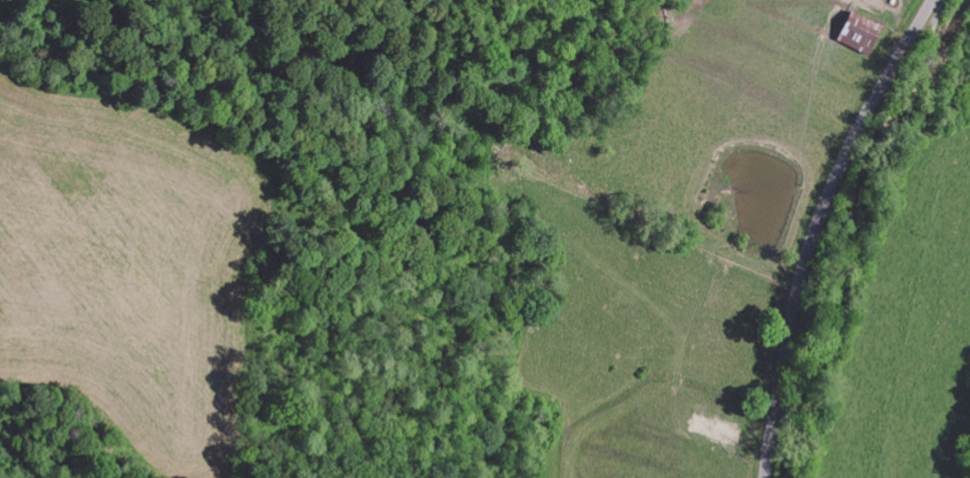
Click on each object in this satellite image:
building: (862, 32)
road: (813, 227)

